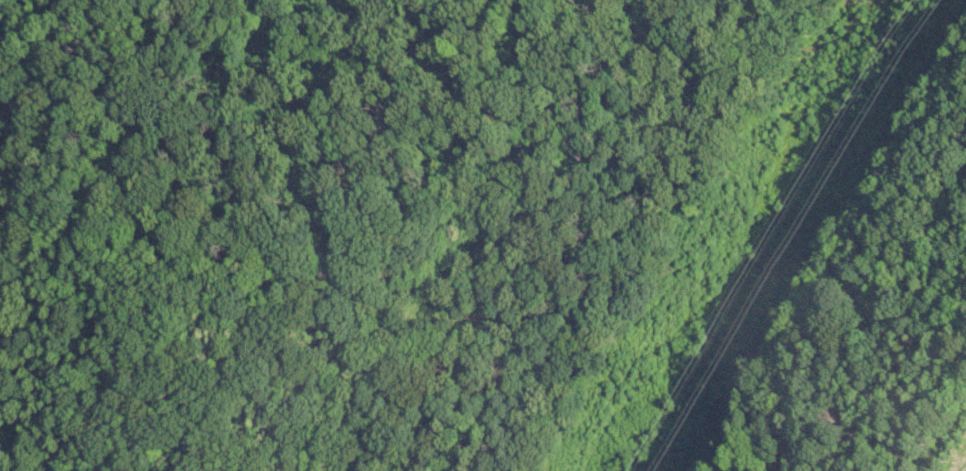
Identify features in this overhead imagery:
landfill: (944, 434)

